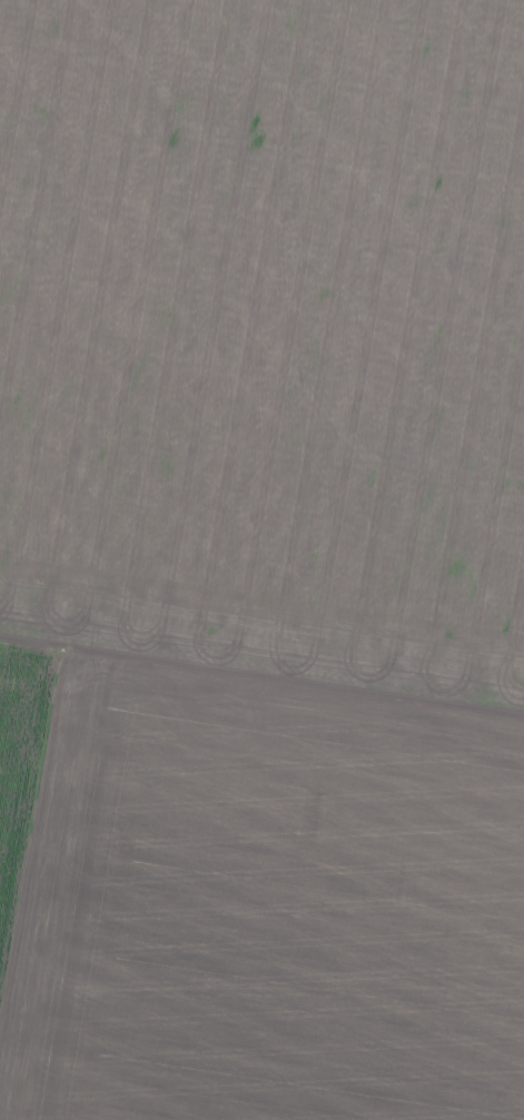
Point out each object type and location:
road: (261, 675)

